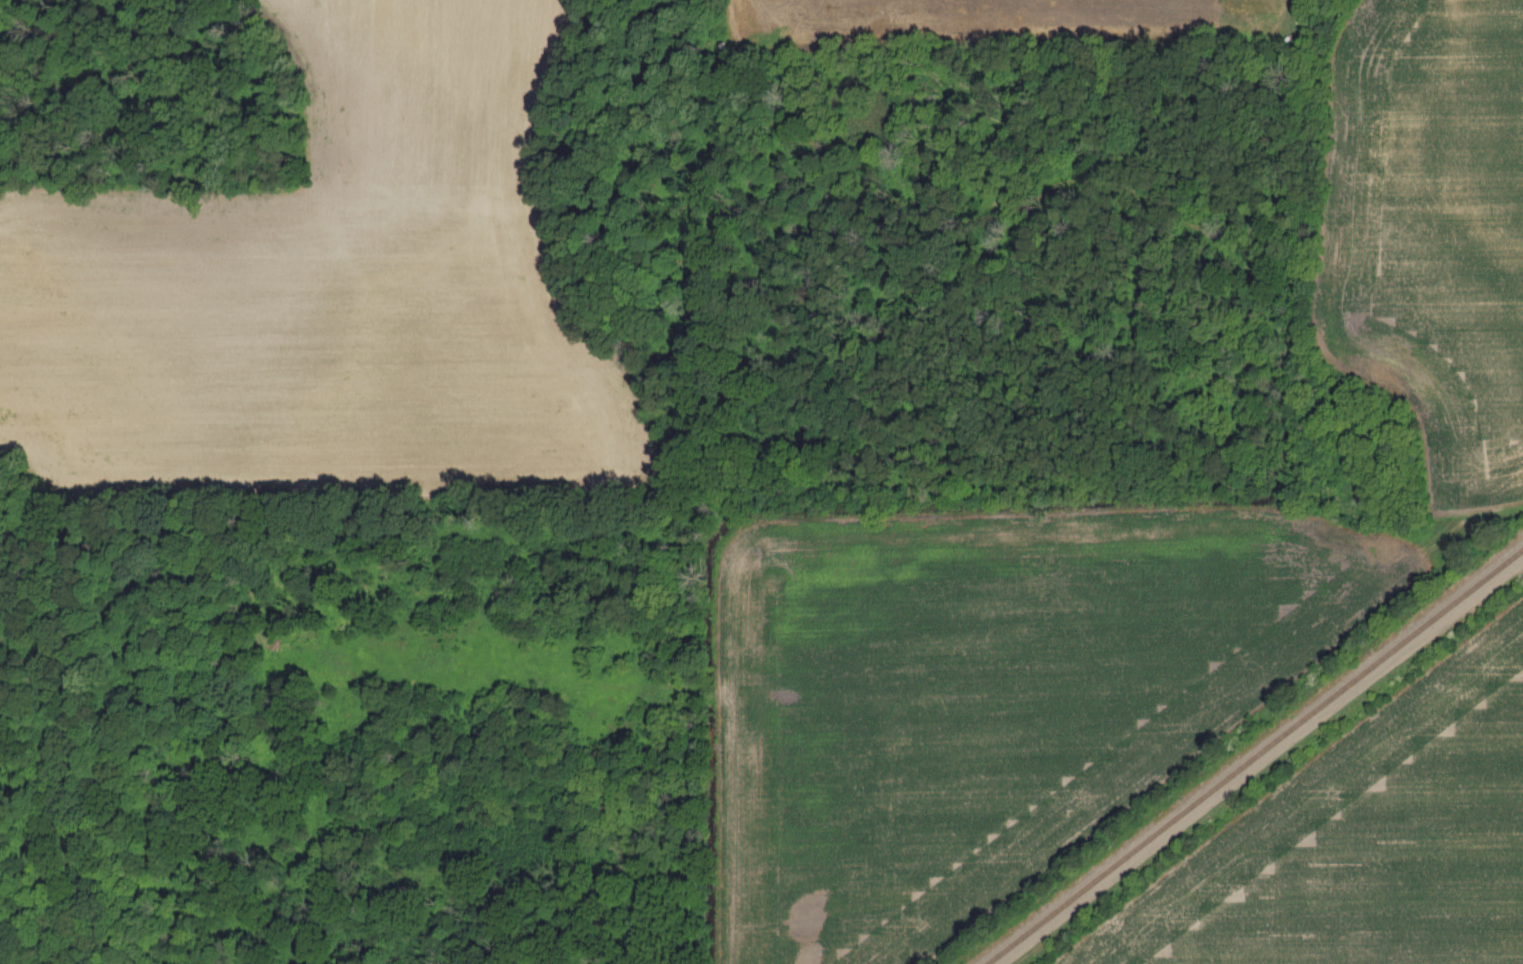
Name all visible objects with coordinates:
railway: (1261, 767)

